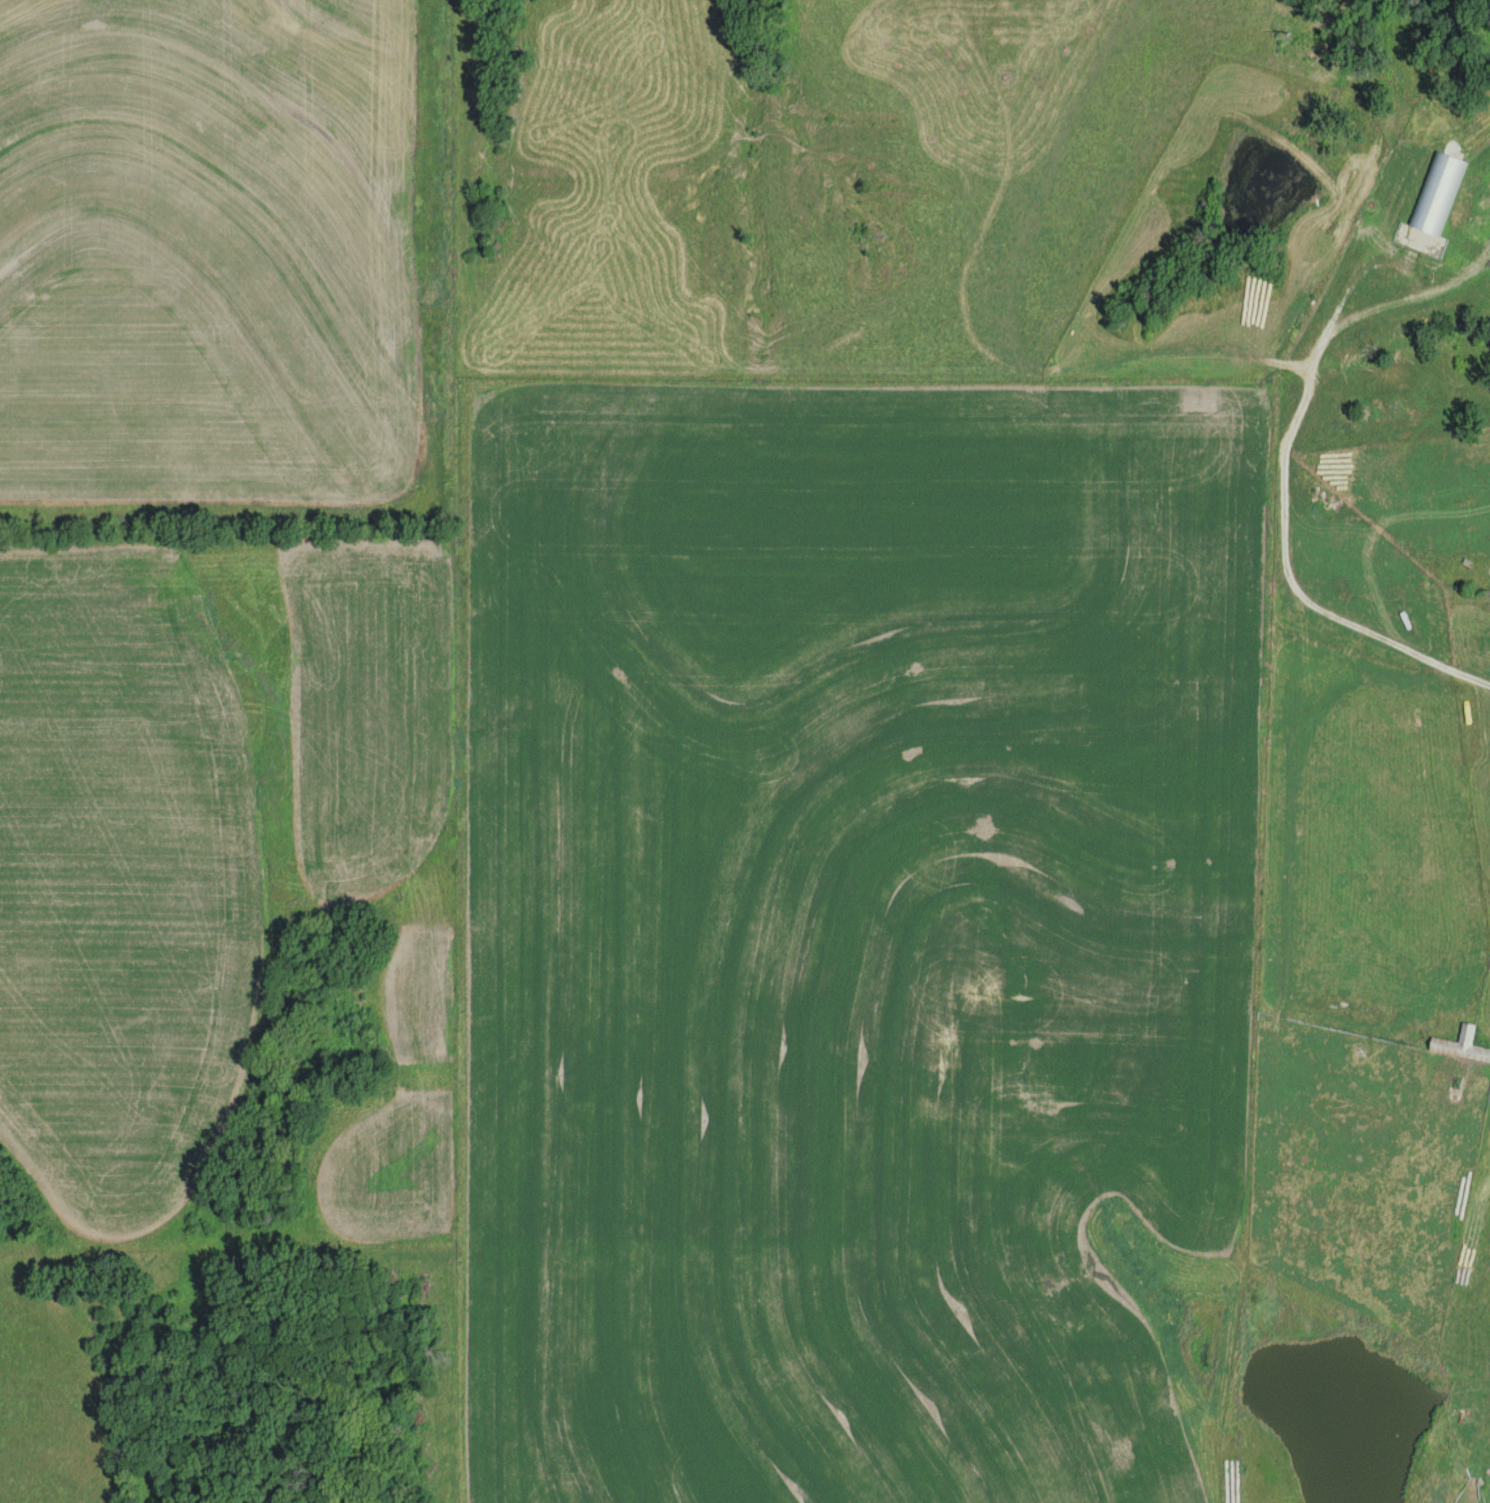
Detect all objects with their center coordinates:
building: (1436, 194)
building: (1460, 1045)

